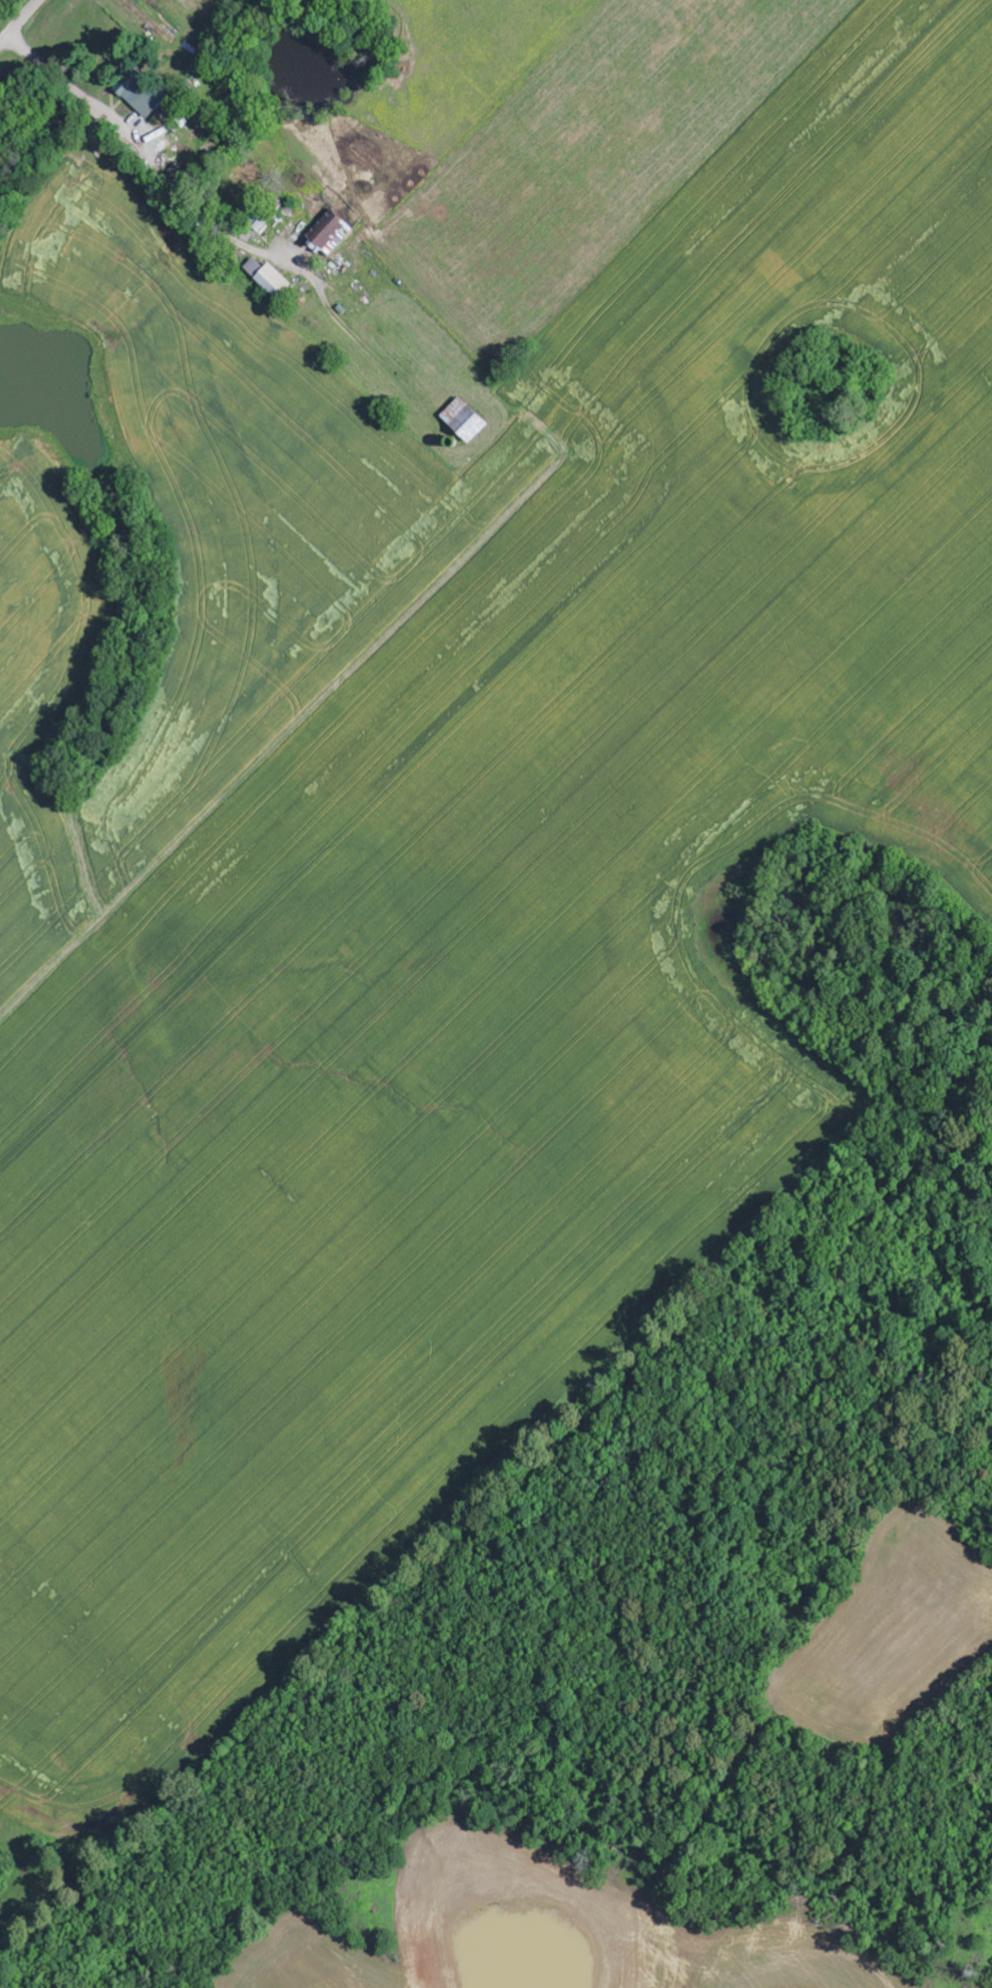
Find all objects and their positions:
road: (18, 21)
building: (143, 98)
road: (208, 234)
building: (331, 234)
building: (269, 278)
building: (466, 421)

